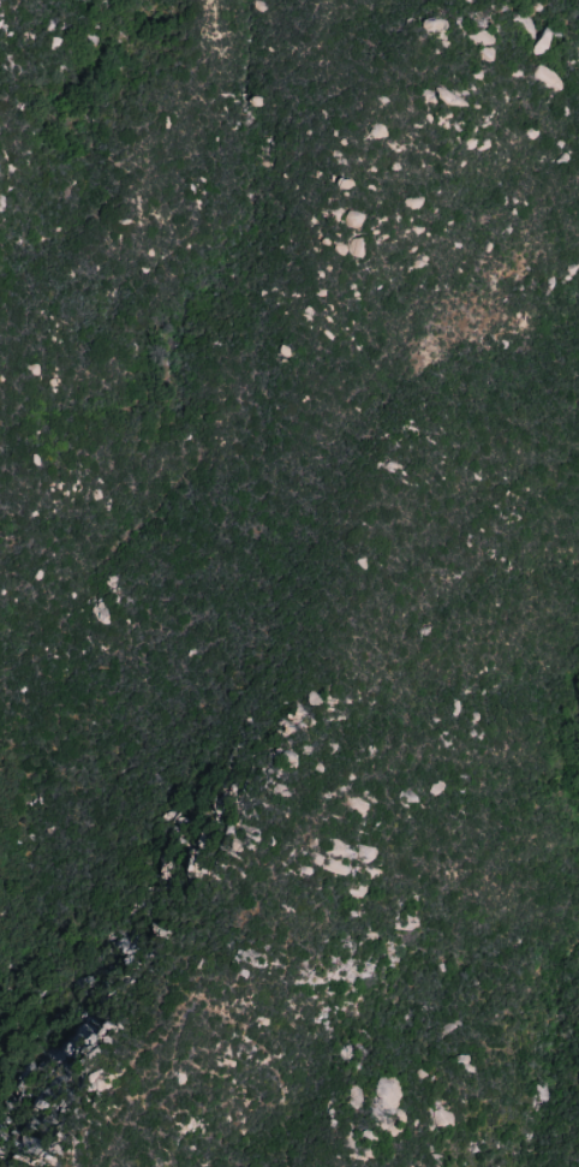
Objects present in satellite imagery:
building: (544, 73)
building: (353, 218)
building: (357, 246)

